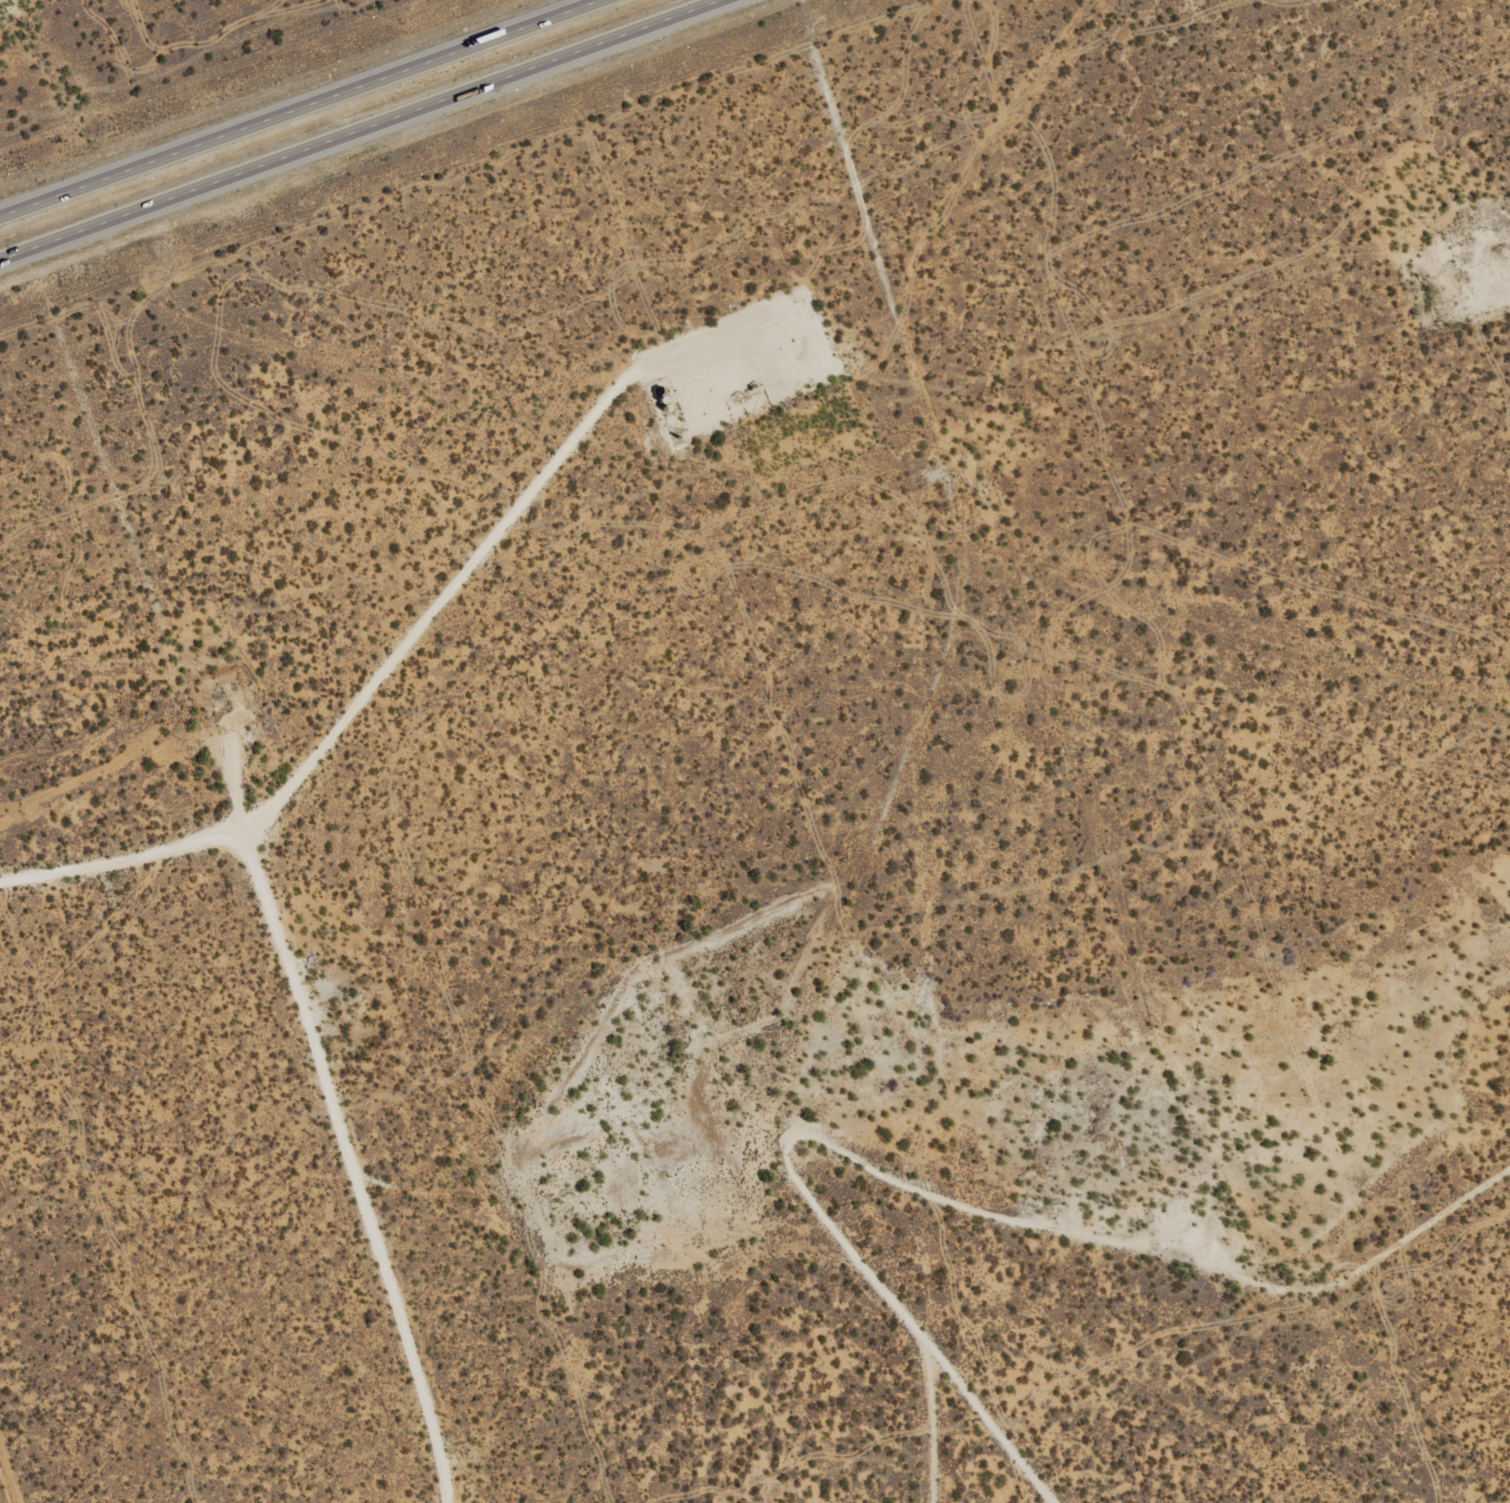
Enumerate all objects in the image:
road: (298, 107)
road: (358, 129)
road: (406, 647)
road: (351, 1164)
road: (956, 1199)
road: (993, 1426)

